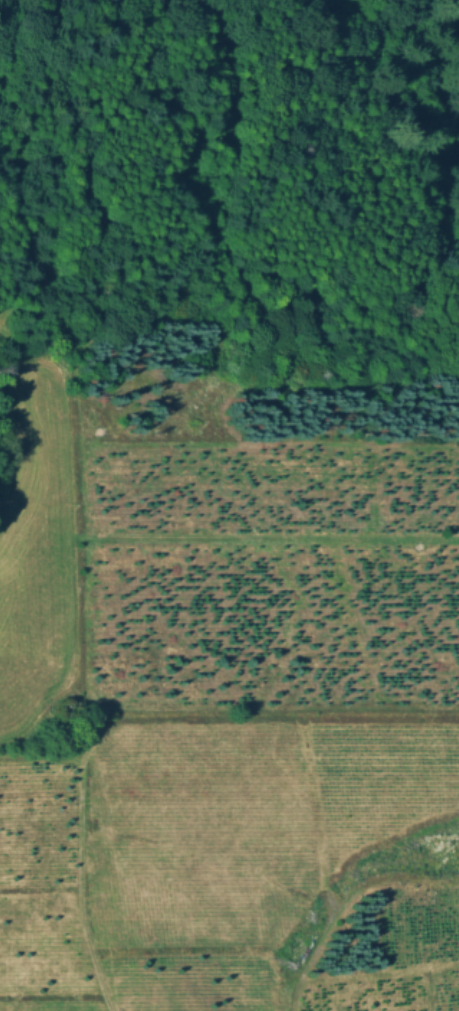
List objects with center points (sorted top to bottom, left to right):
road: (30, 289)

